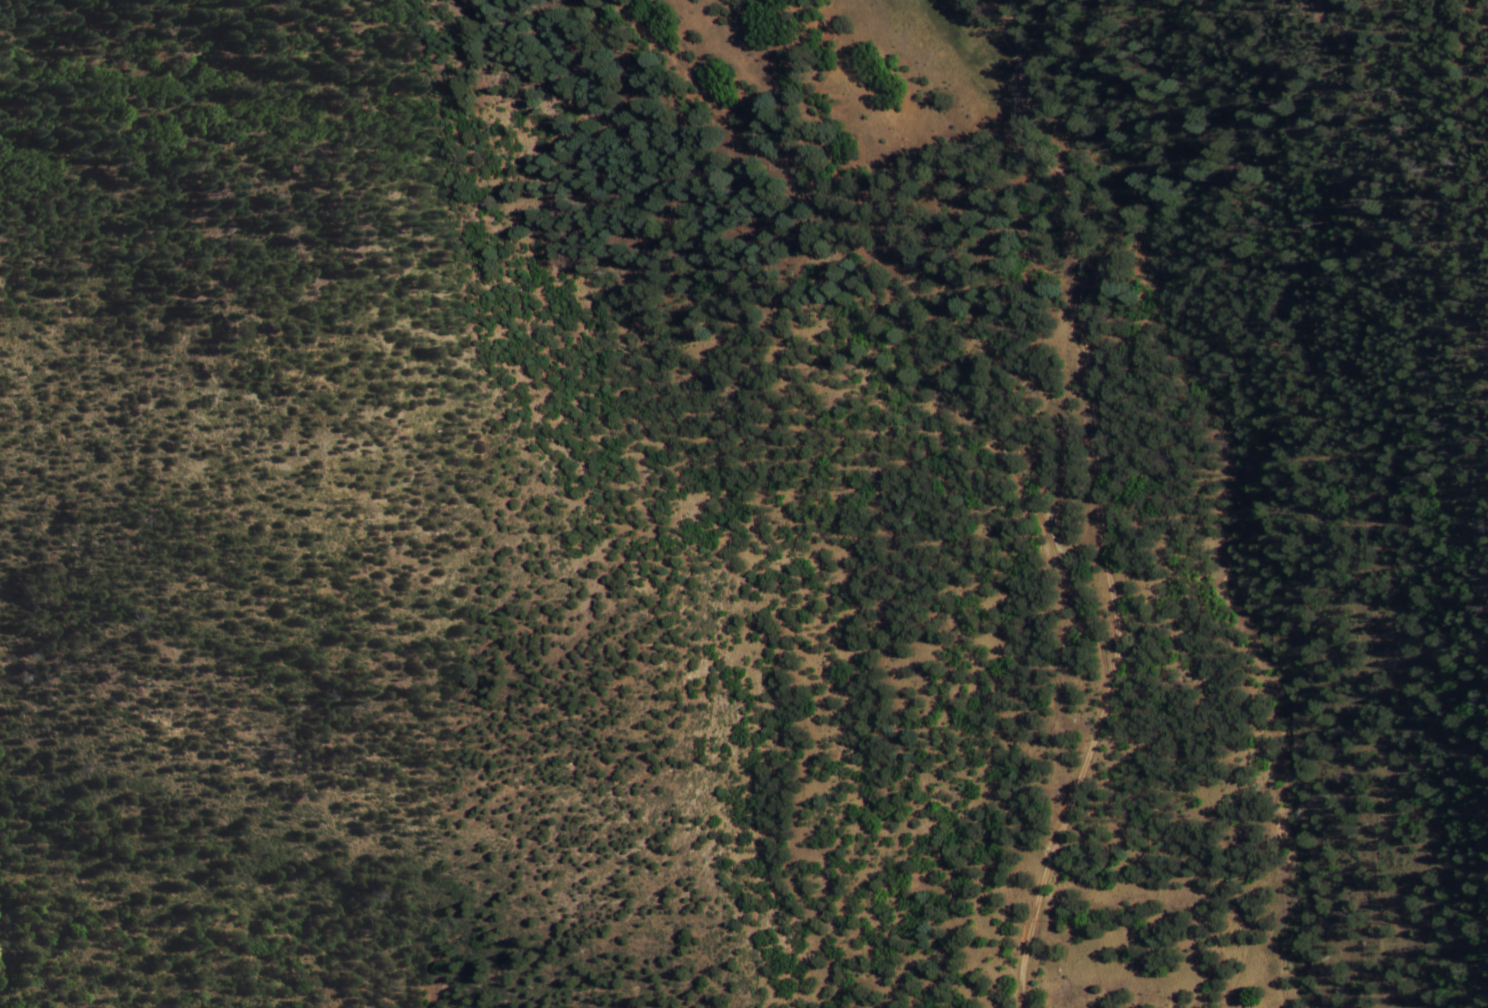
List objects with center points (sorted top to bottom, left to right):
road: (1091, 505)

